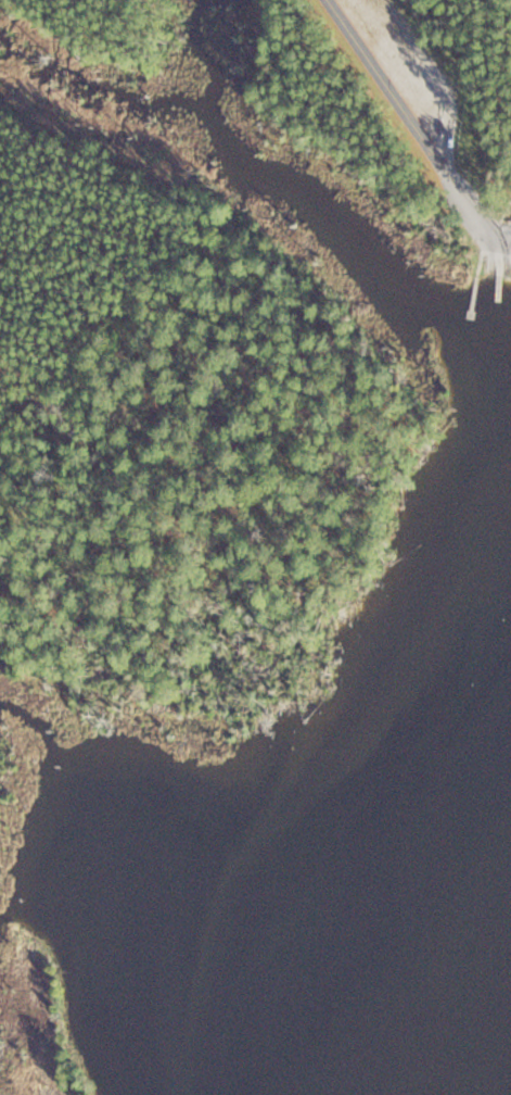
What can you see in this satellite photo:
parking lot: (404, 63)
road: (432, 70)
road: (412, 117)
road: (497, 236)

